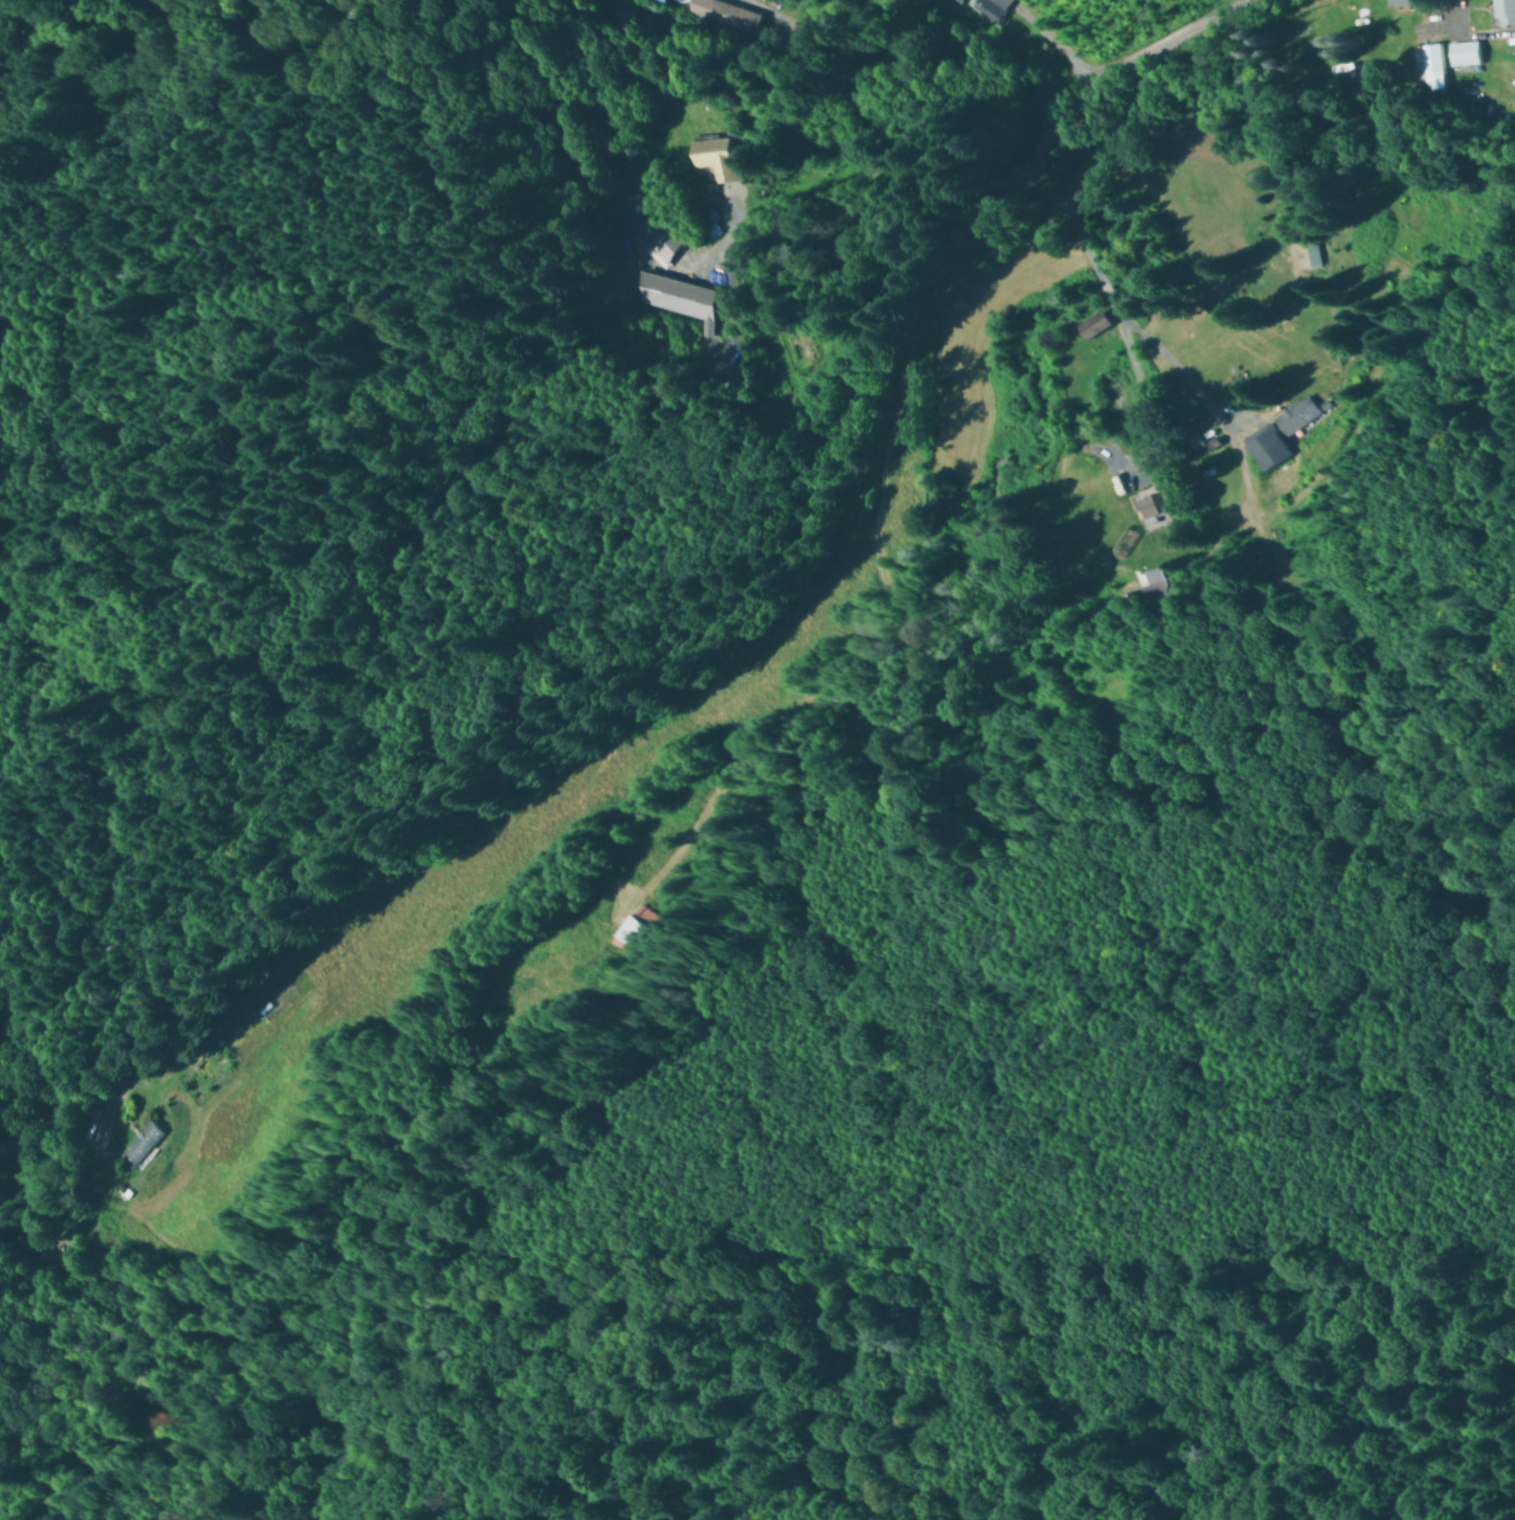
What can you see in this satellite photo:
building: (653, 2)
building: (988, 10)
building: (733, 13)
building: (1505, 13)
road: (1465, 19)
building: (610, 20)
building: (1467, 55)
road: (1110, 64)
building: (1432, 71)
road: (501, 72)
building: (718, 165)
road: (27, 208)
building: (705, 222)
building: (650, 238)
road: (1104, 292)
building: (1097, 328)
building: (799, 349)
road: (1143, 402)
building: (1298, 418)
building: (1269, 449)
building: (1157, 504)
building: (1148, 597)
road: (542, 722)
building: (636, 928)
building: (141, 1146)
road: (12, 1286)

